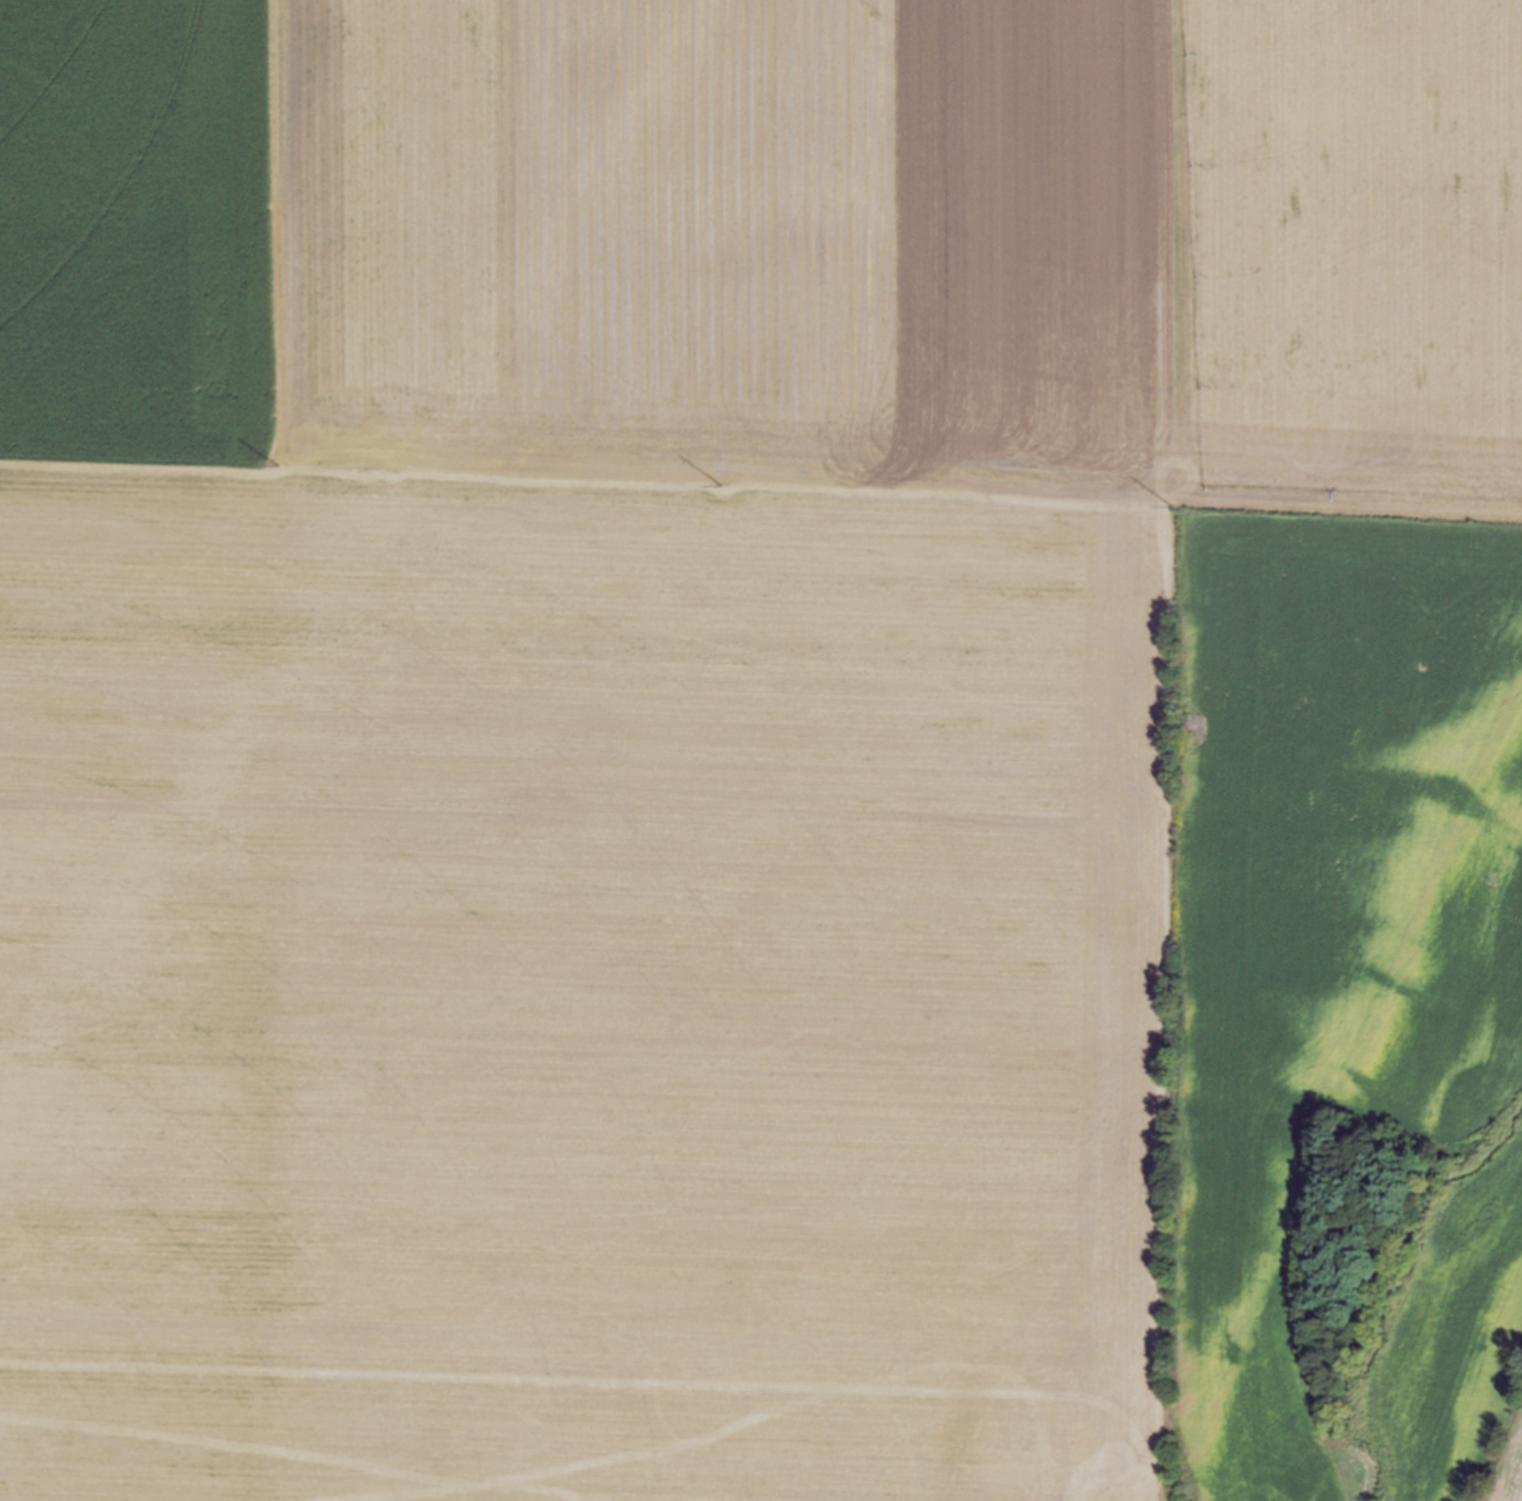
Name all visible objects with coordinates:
power tower: (281, 462)
power tower: (723, 482)

